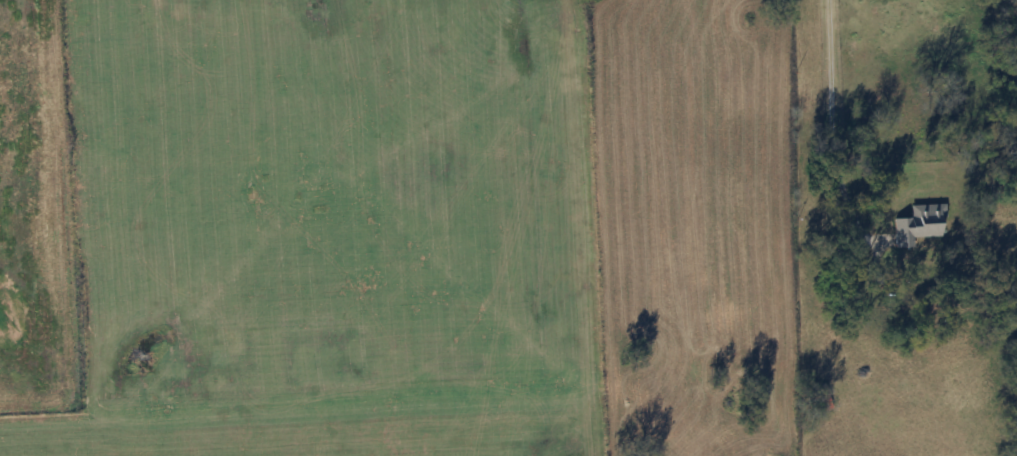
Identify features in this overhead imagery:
building: (922, 225)

